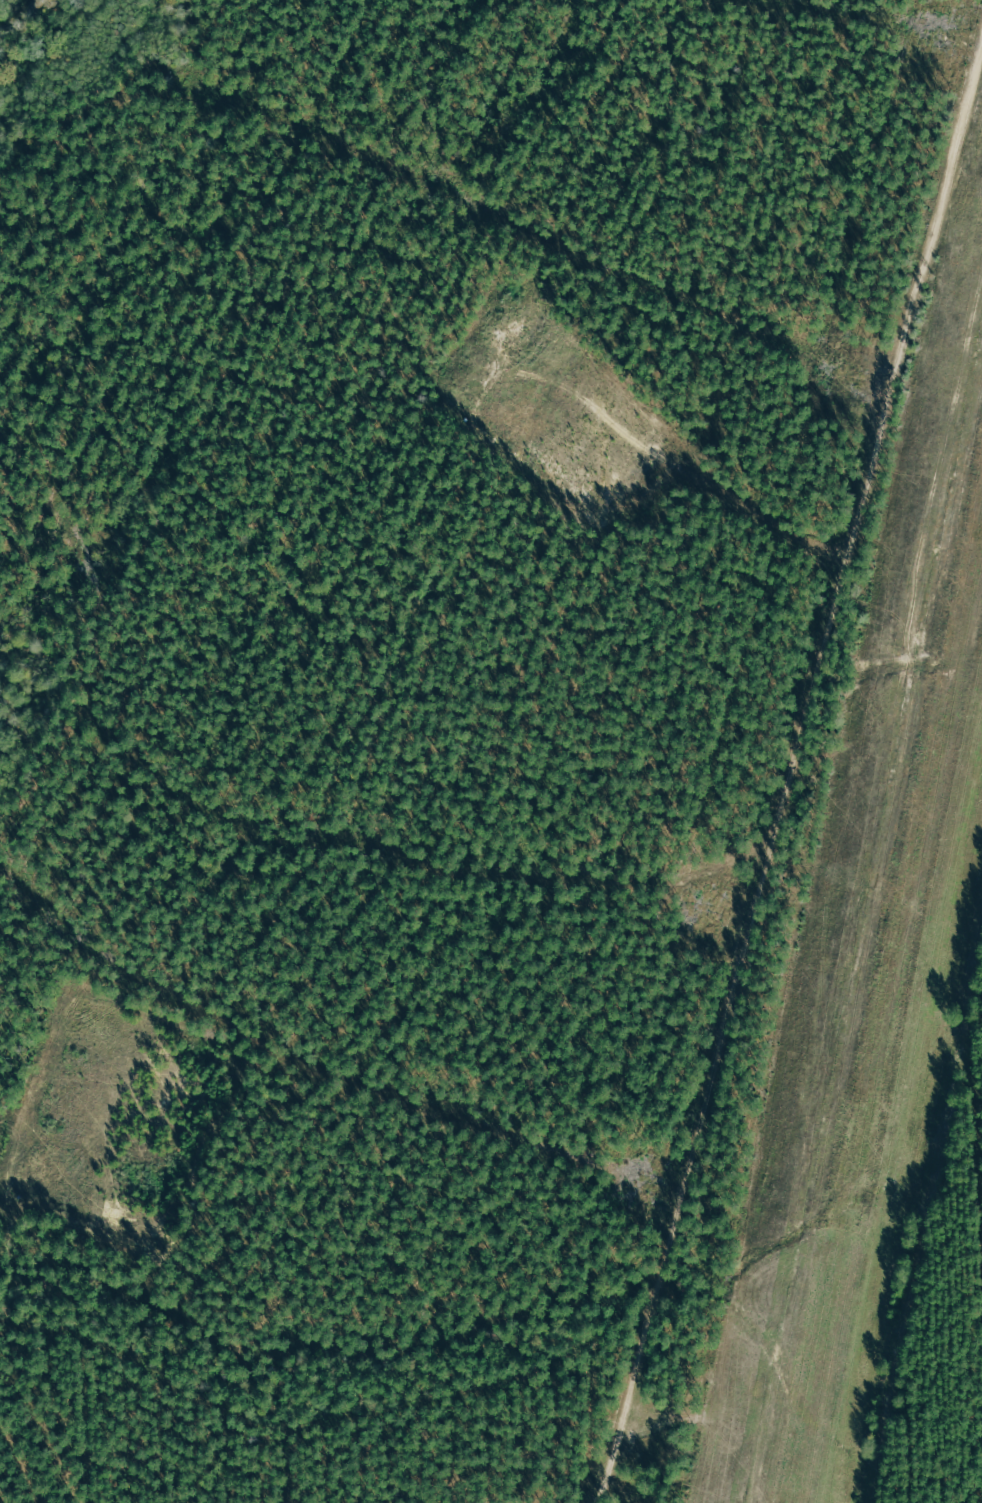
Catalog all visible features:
road: (829, 643)
road: (450, 1135)
road: (11, 1234)
road: (644, 1357)

